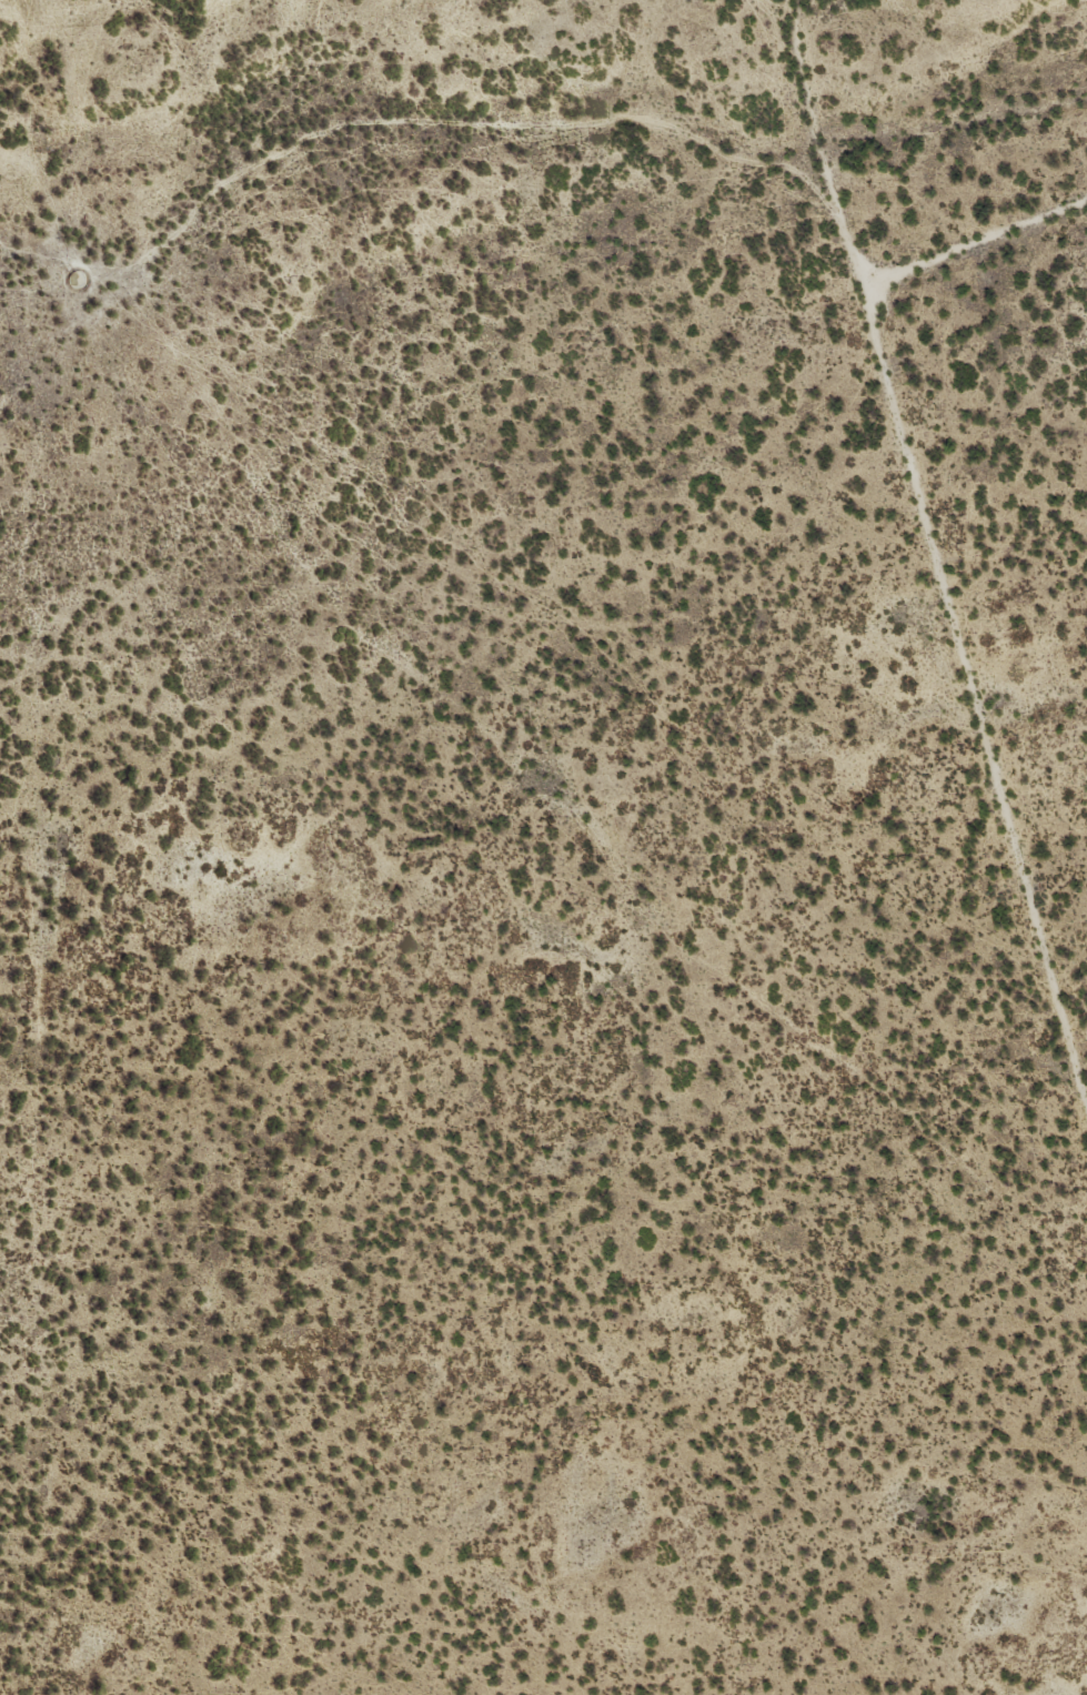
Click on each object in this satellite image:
road: (932, 554)

